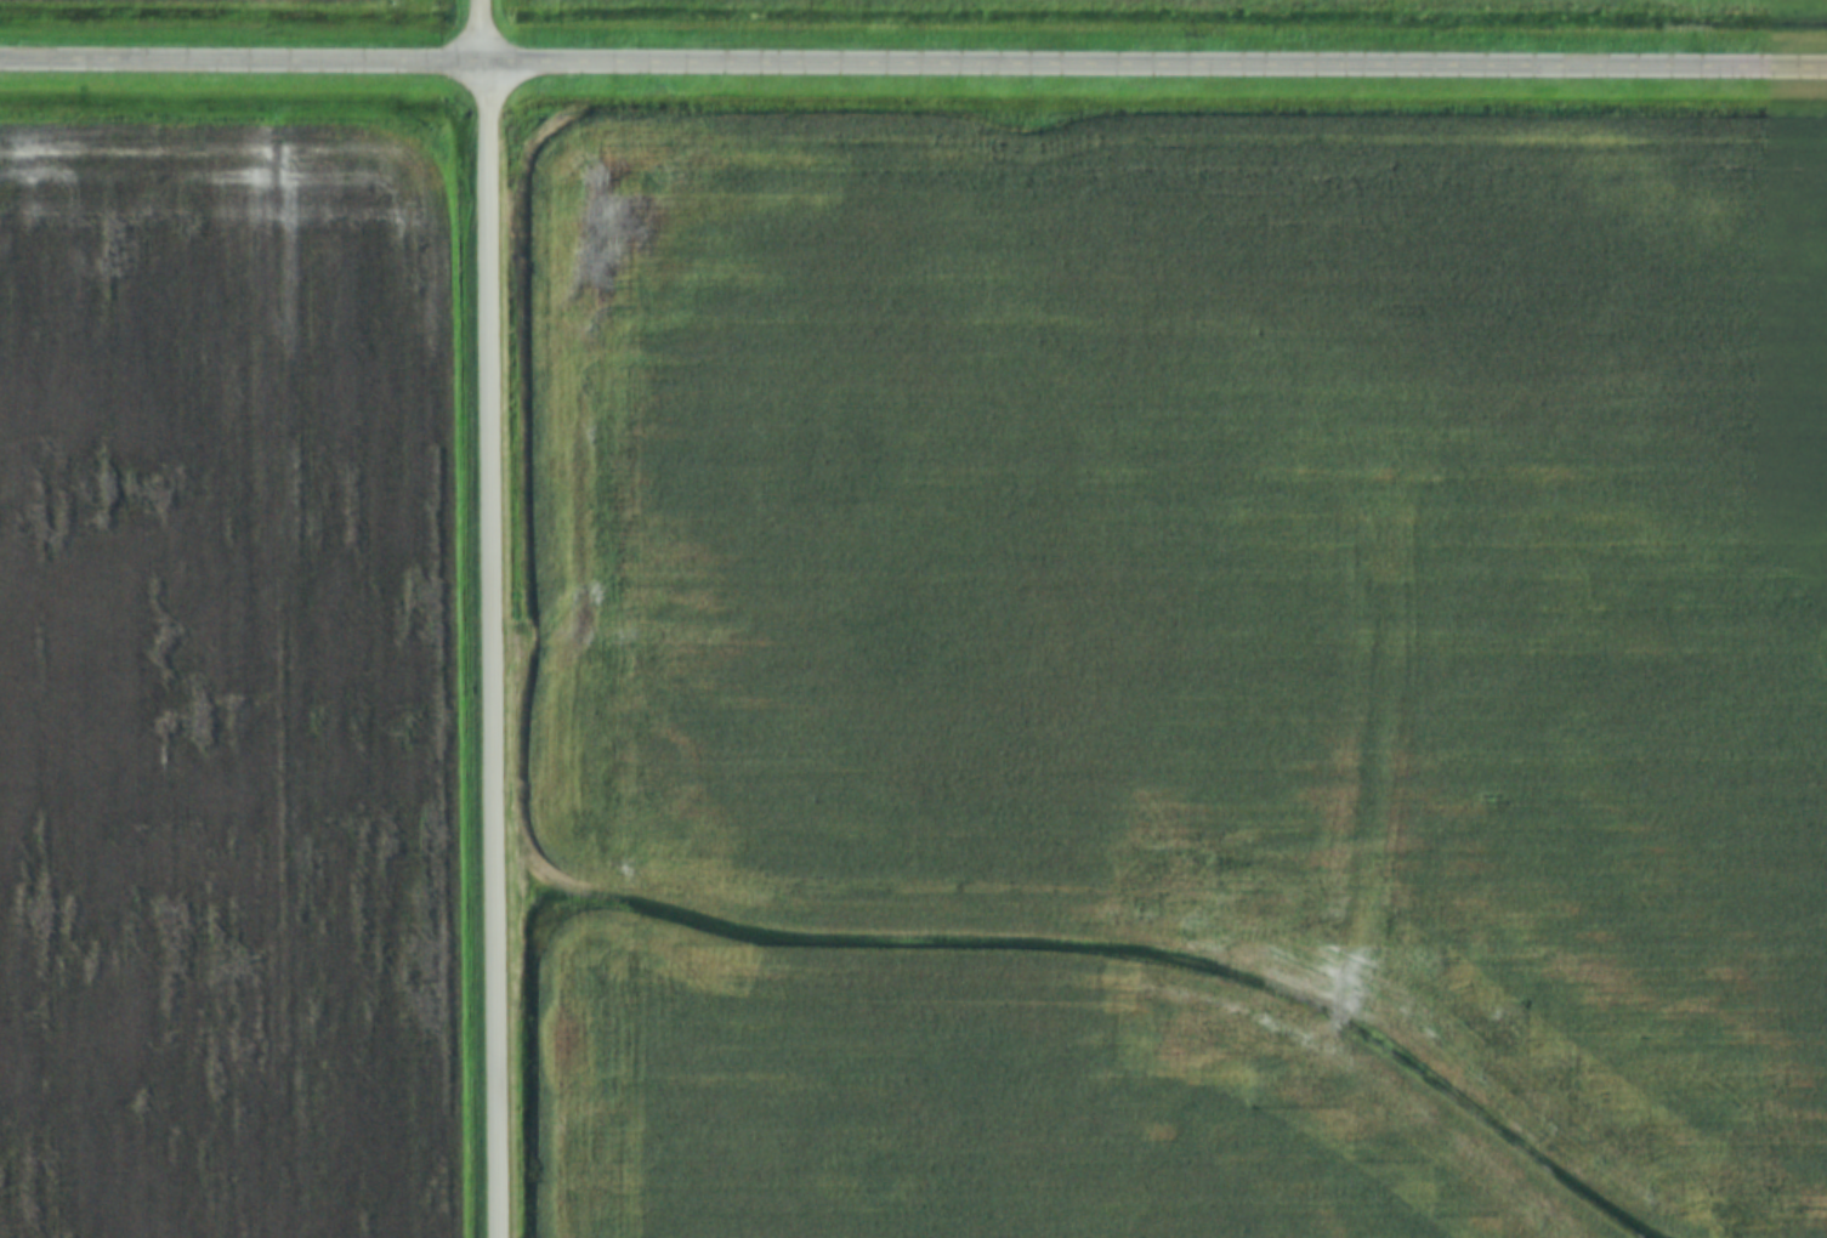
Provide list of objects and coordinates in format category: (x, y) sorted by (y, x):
crop: (342, 0)
road: (488, 30)
road: (913, 63)
road: (497, 649)
crop: (223, 686)

